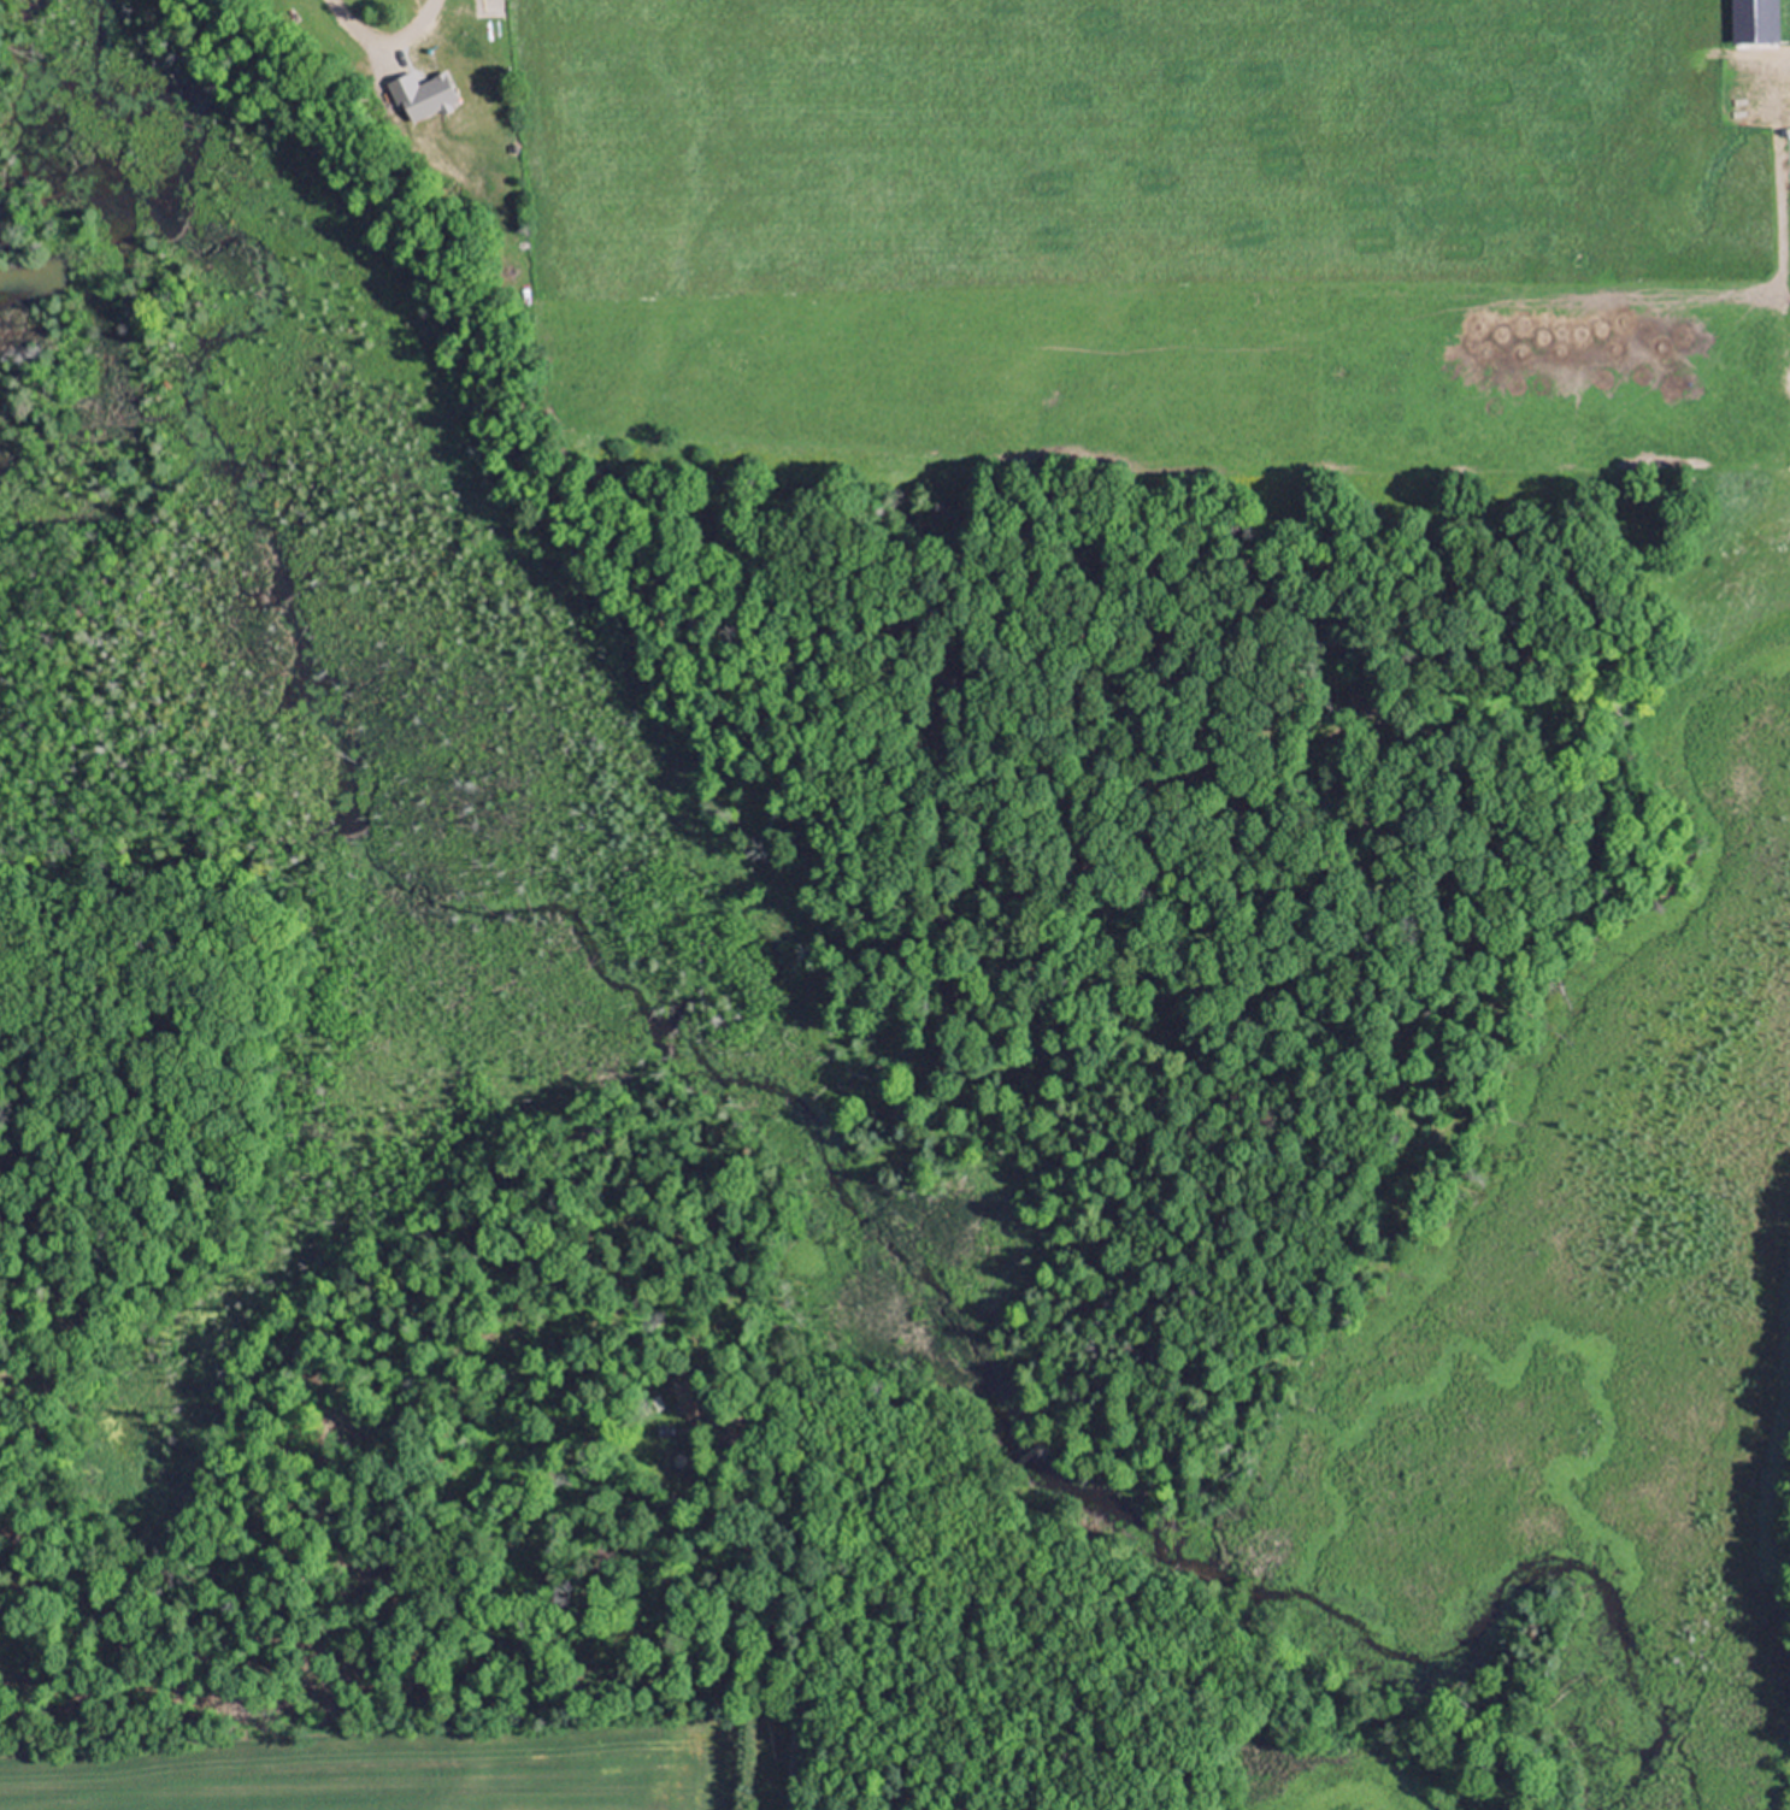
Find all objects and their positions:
building: (1766, 73)

